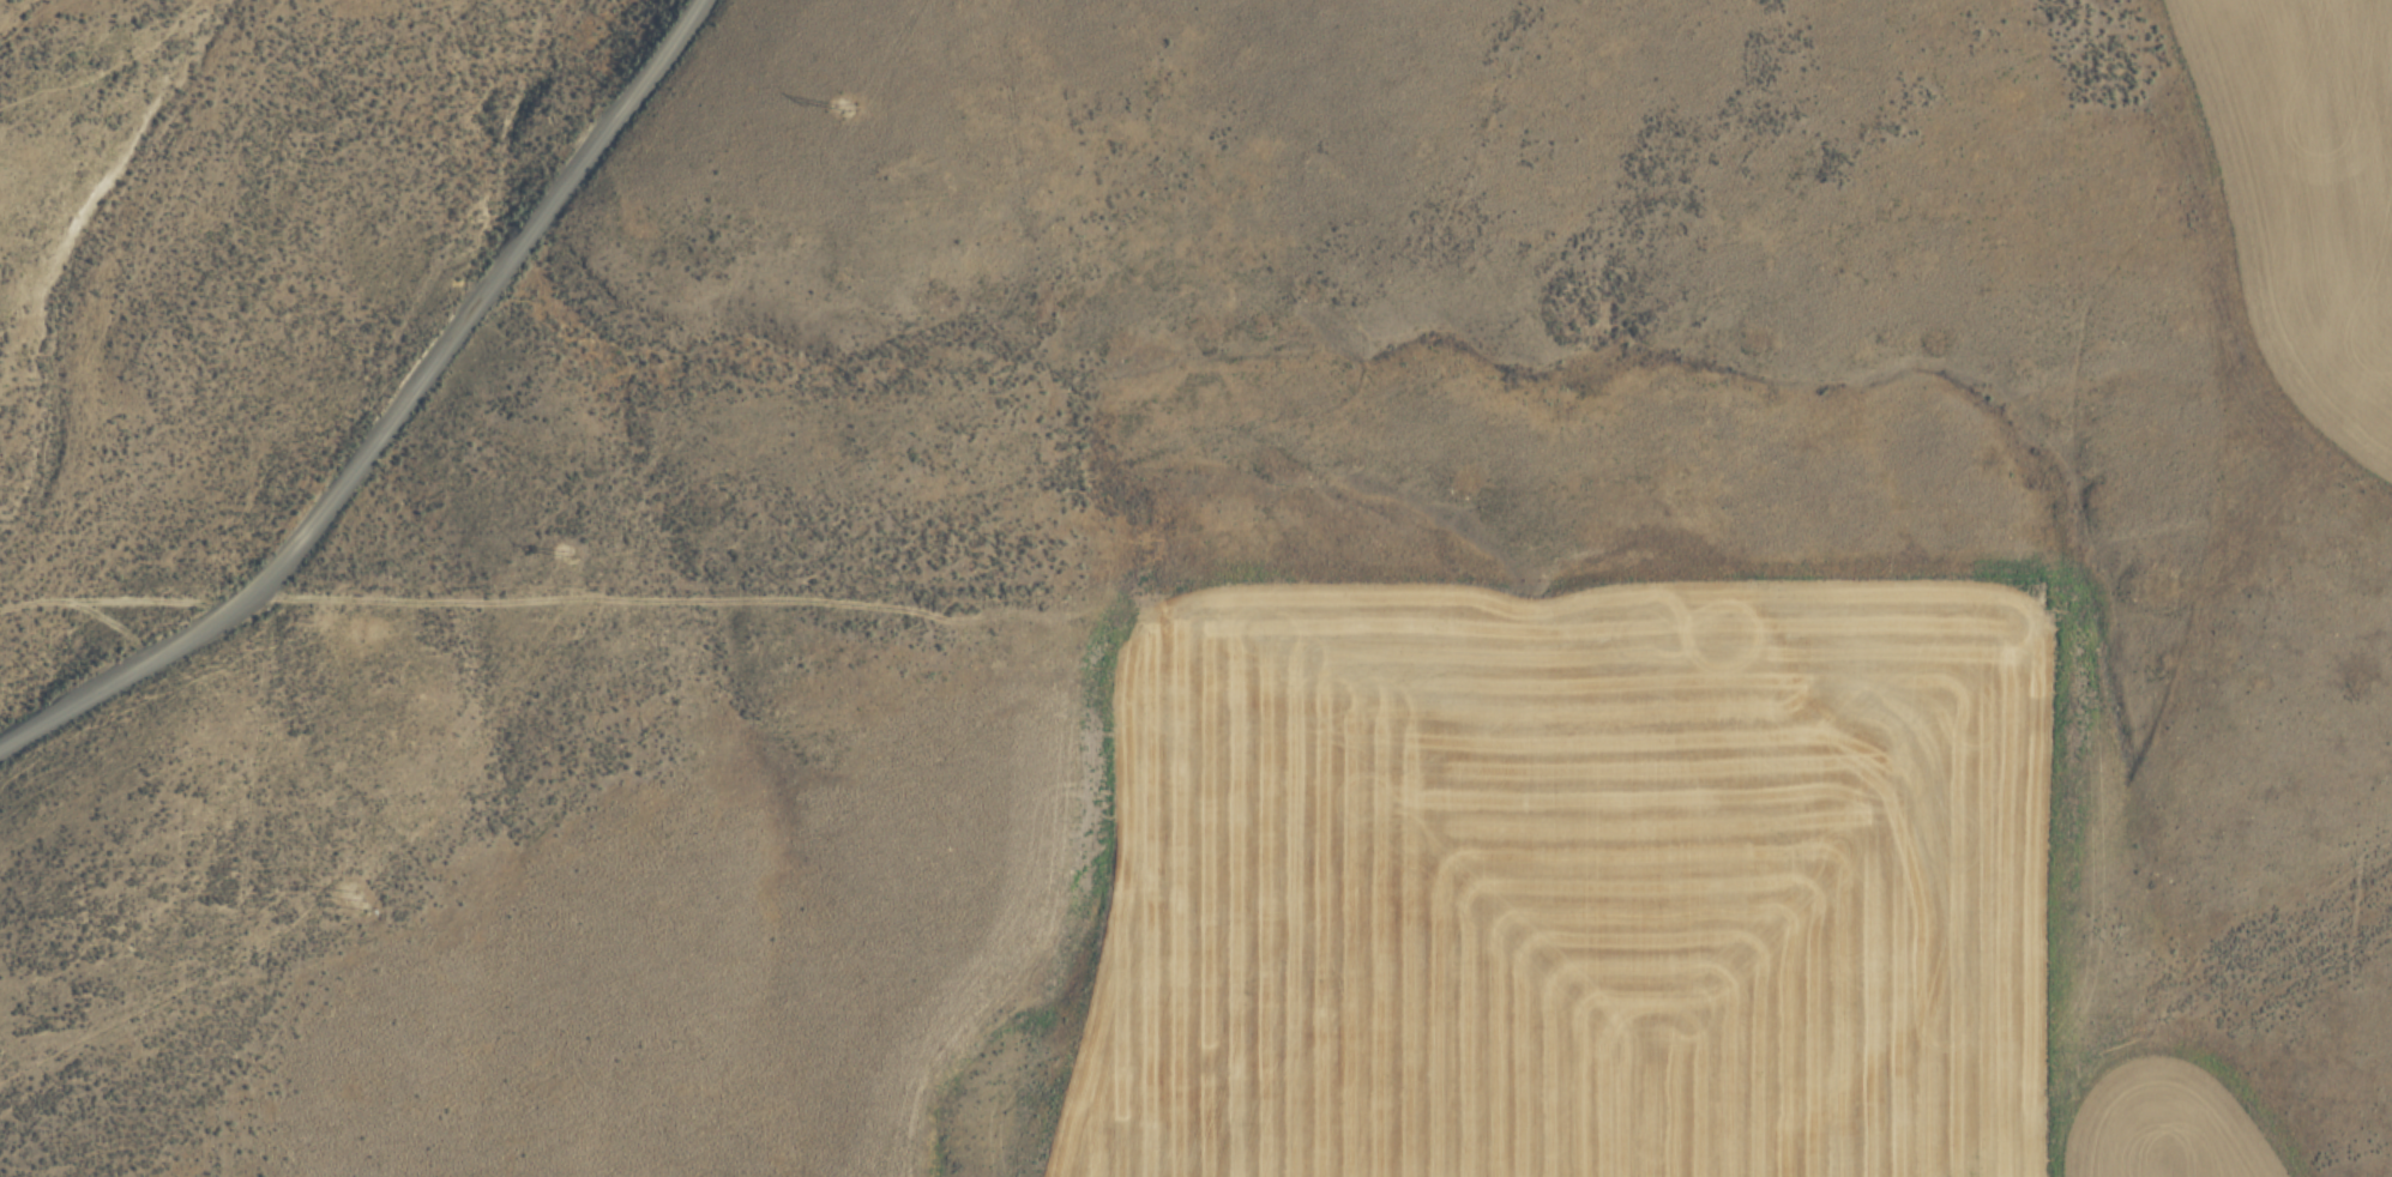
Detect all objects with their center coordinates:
road: (390, 418)

